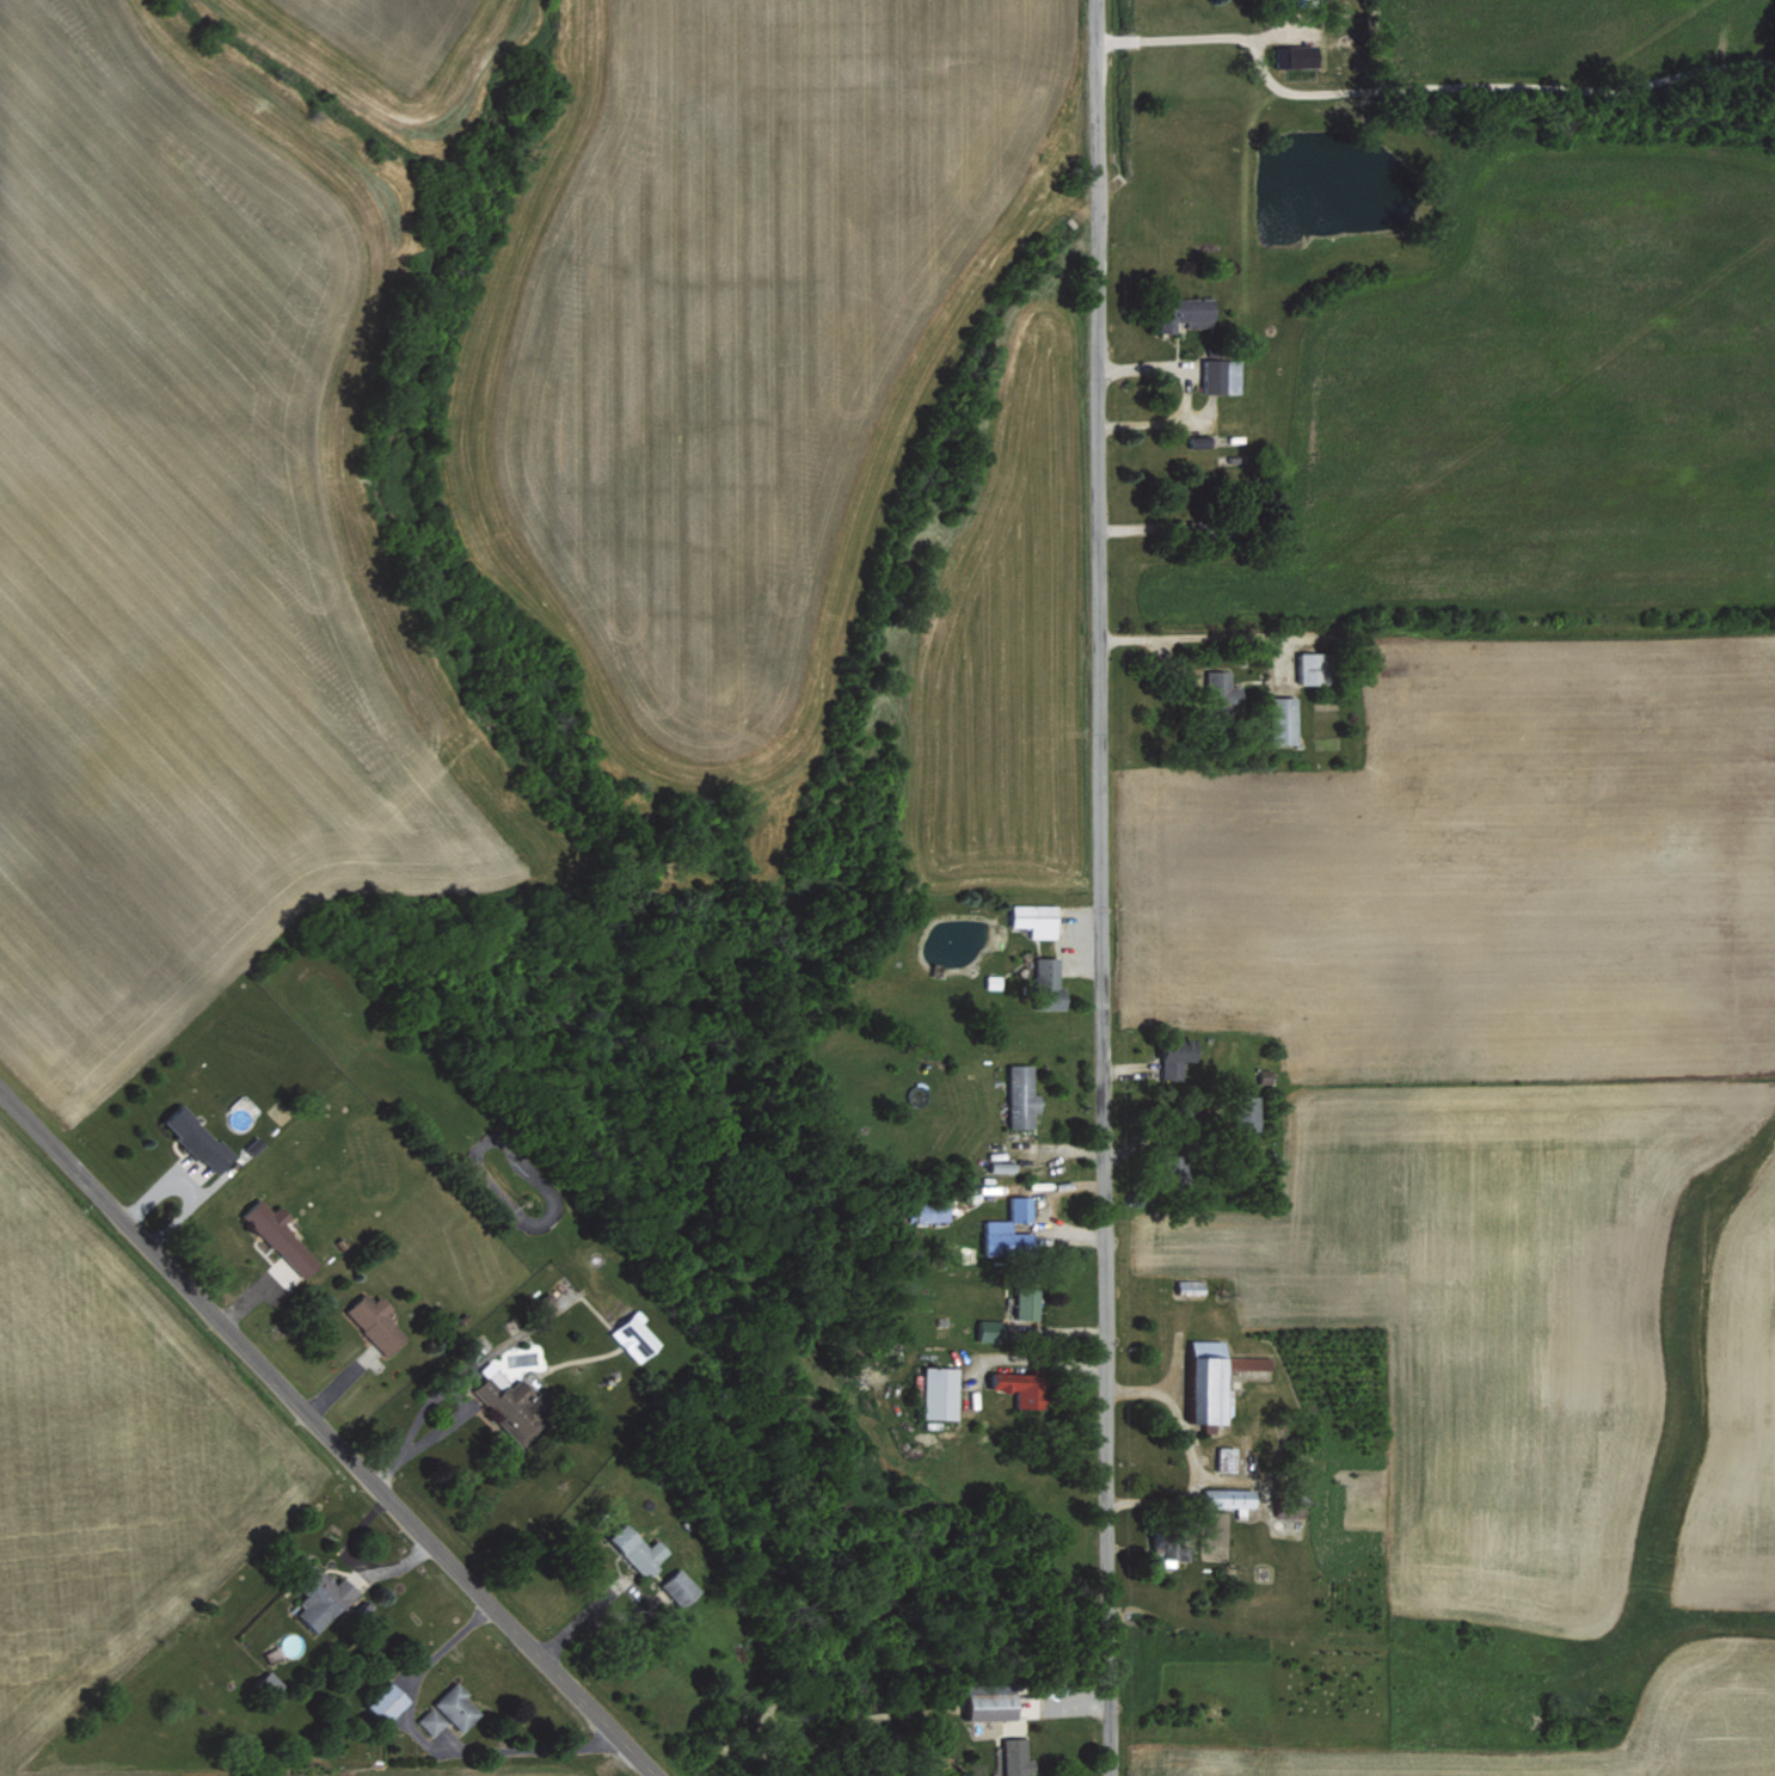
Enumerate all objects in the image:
road: (1190, 36)
building: (1296, 54)
road: (1516, 85)
building: (1185, 312)
building: (1220, 374)
road: (1180, 391)
building: (1314, 666)
building: (1283, 718)
road: (1093, 887)
building: (1036, 917)
building: (1046, 983)
building: (1174, 1063)
building: (1020, 1095)
building: (1249, 1112)
building: (932, 1210)
building: (1007, 1229)
building: (280, 1234)
building: (375, 1321)
building: (989, 1333)
building: (633, 1335)
building: (1214, 1378)
building: (1020, 1387)
building: (939, 1391)
building: (510, 1396)
road: (455, 1413)
road: (324, 1434)
road: (1186, 1454)
building: (1226, 1457)
building: (1229, 1498)
building: (638, 1548)
building: (1169, 1550)
building: (678, 1585)
building: (323, 1596)
building: (266, 1680)
building: (386, 1700)
building: (993, 1703)
building: (455, 1704)
building: (430, 1717)
road: (430, 1746)
building: (1017, 1756)

